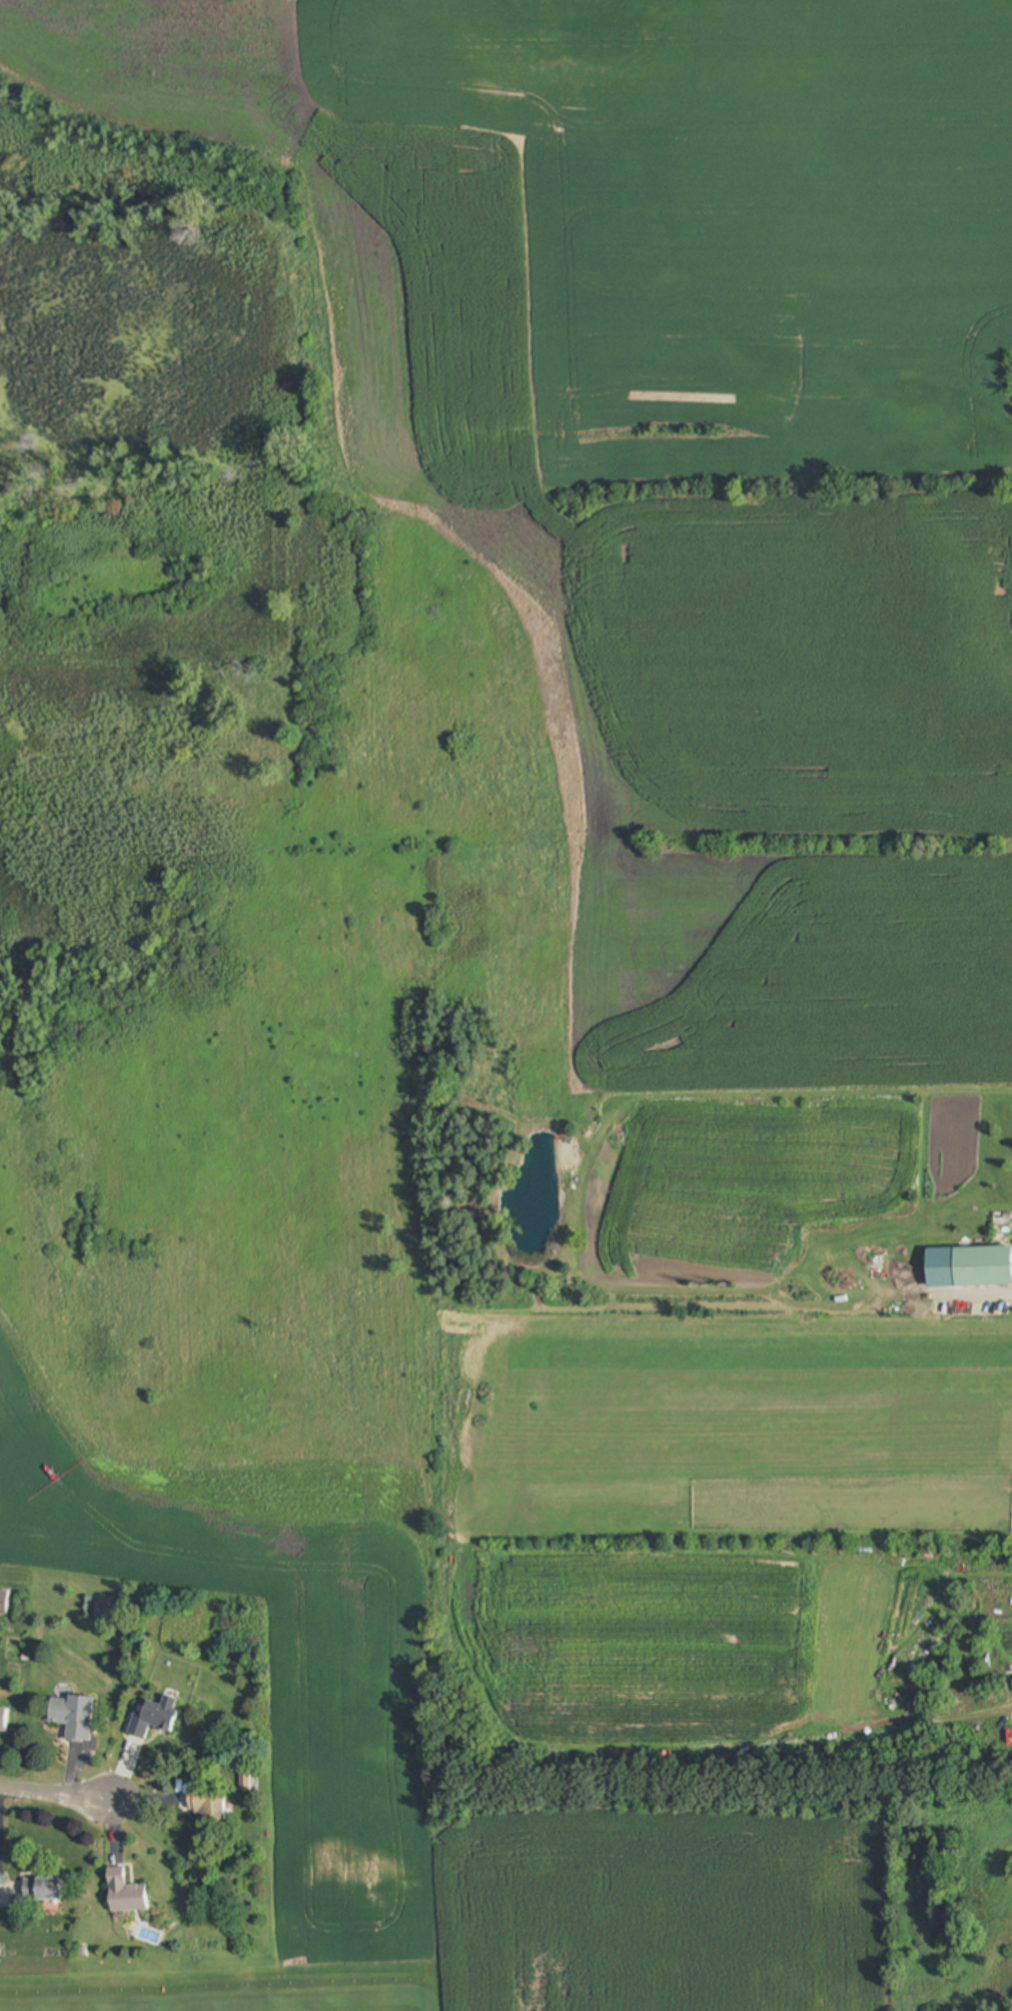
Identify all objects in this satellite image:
building: (969, 1269)
building: (73, 1717)
building: (3, 1718)
building: (152, 1720)
road: (55, 1791)
building: (206, 1803)
building: (42, 1889)
building: (125, 1893)

